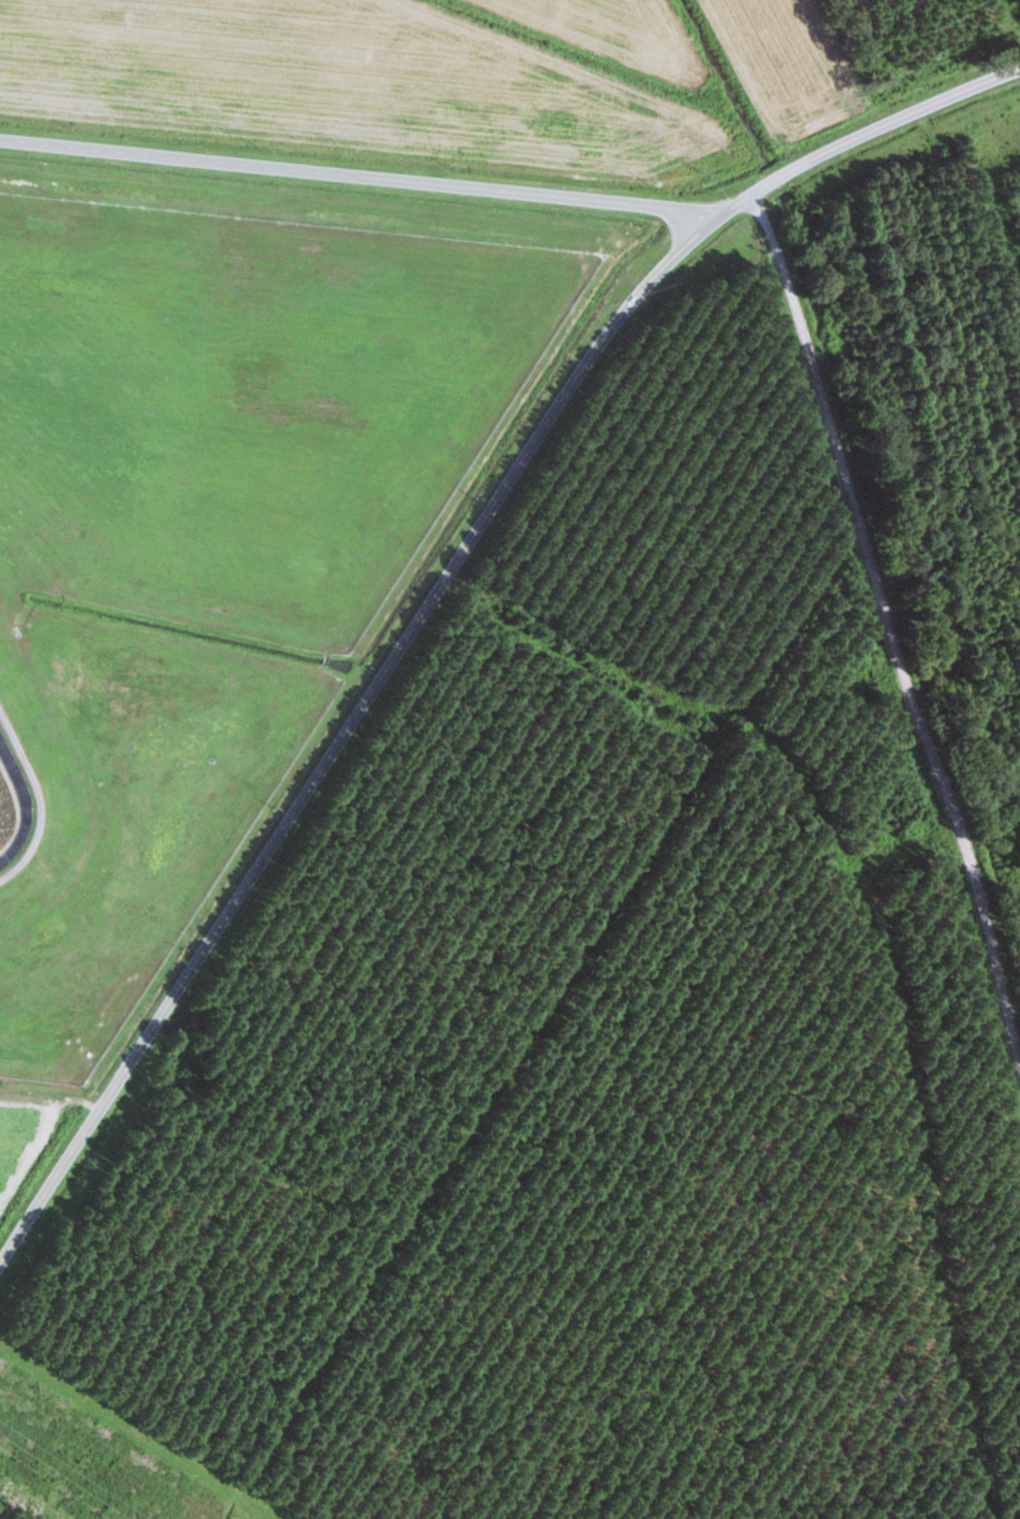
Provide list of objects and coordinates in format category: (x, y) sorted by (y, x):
road: (357, 172)
road: (438, 582)
road: (891, 599)
power tower: (6, 1392)

